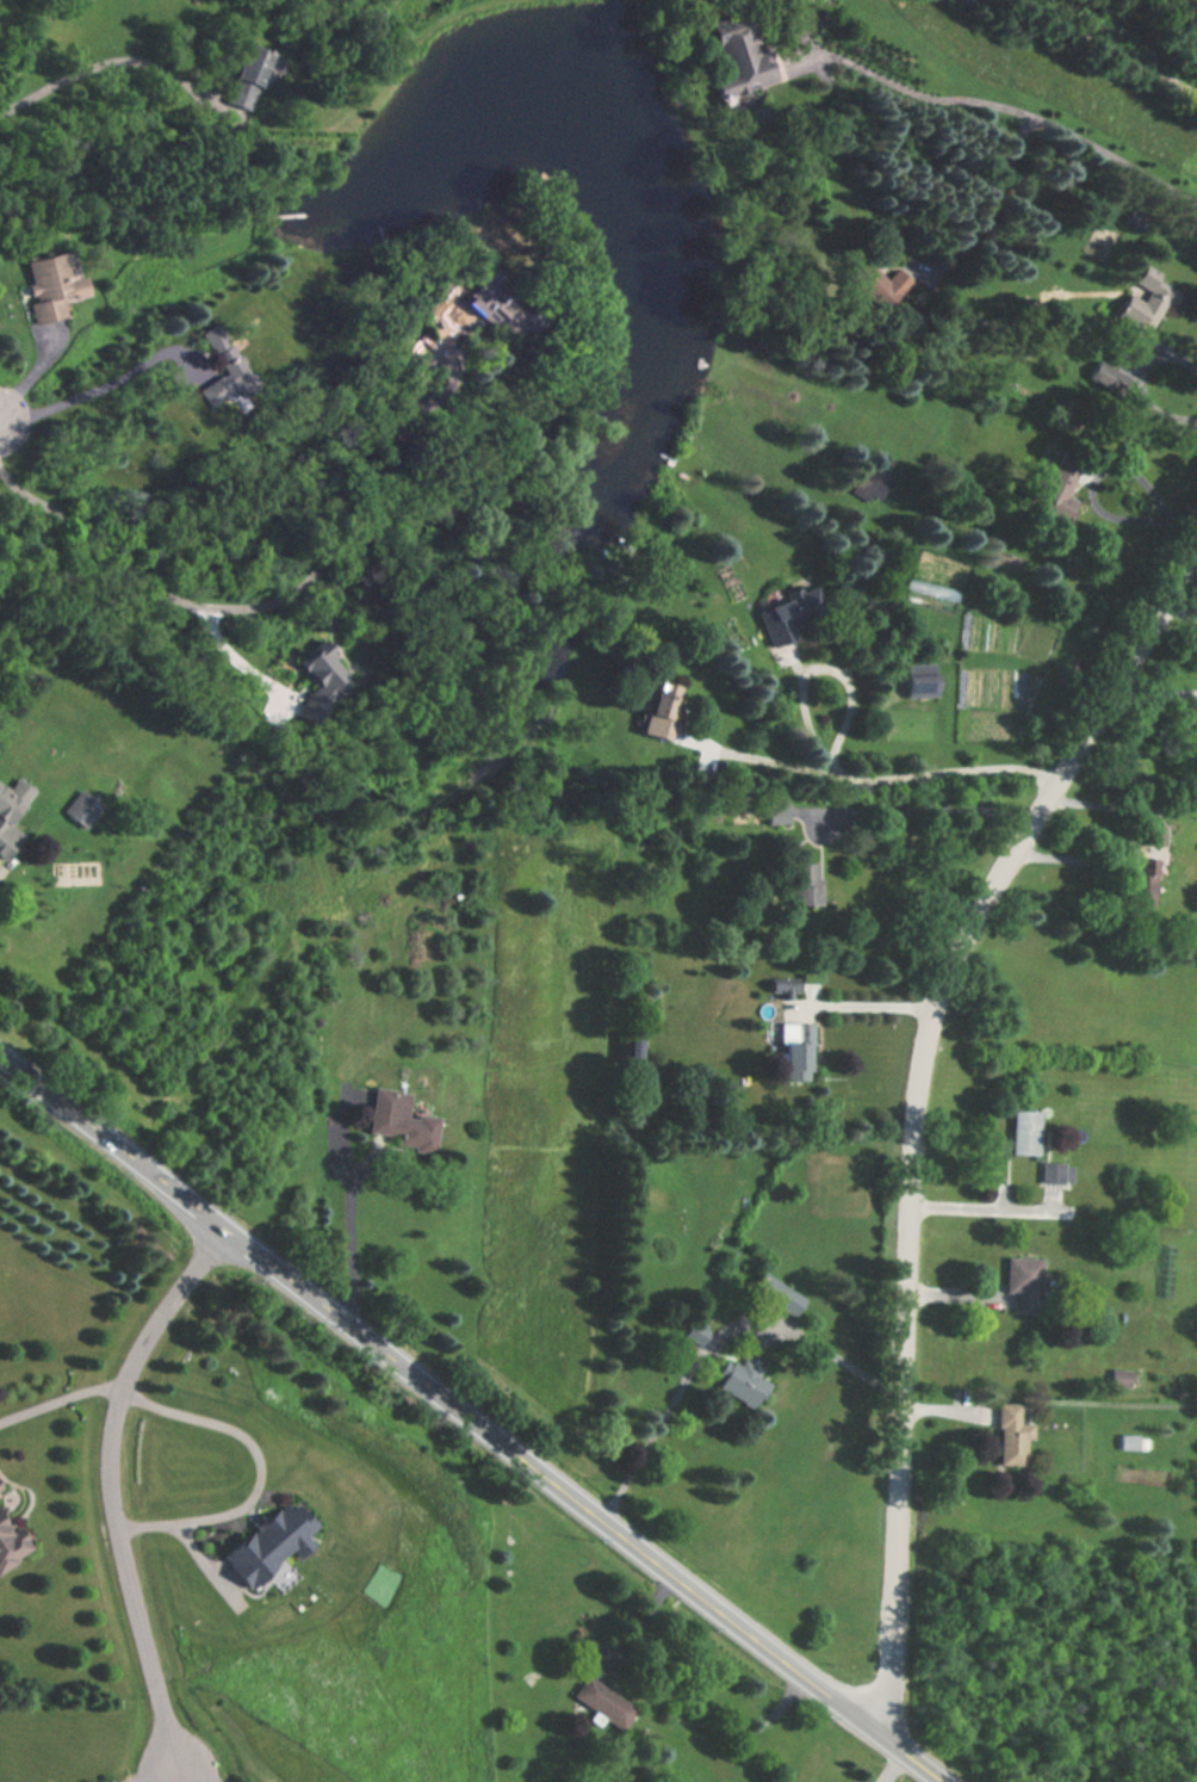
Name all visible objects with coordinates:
road: (1108, 47)
building: (734, 56)
road: (114, 62)
building: (244, 79)
road: (1022, 115)
road: (982, 199)
building: (48, 284)
building: (877, 284)
building: (1141, 307)
road: (449, 366)
road: (110, 386)
road: (1090, 478)
building: (1056, 485)
road: (1180, 531)
road: (232, 611)
road: (1182, 612)
building: (780, 617)
road: (814, 661)
road: (241, 662)
building: (918, 680)
road: (1154, 694)
building: (659, 709)
building: (1196, 722)
road: (876, 774)
building: (80, 809)
road: (924, 812)
building: (6, 830)
building: (802, 883)
road: (863, 1007)
building: (629, 1046)
building: (793, 1050)
road: (916, 1112)
building: (398, 1119)
building: (1024, 1133)
building: (1055, 1172)
road: (987, 1208)
road: (355, 1252)
building: (1024, 1282)
building: (775, 1293)
building: (1106, 1314)
building: (694, 1332)
road: (717, 1337)
building: (740, 1380)
building: (1118, 1380)
road: (60, 1400)
road: (471, 1418)
building: (1011, 1435)
road: (262, 1461)
road: (113, 1483)
building: (8, 1542)
building: (603, 1702)
road: (891, 1766)
road: (156, 1772)
road: (184, 1772)
road: (197, 1772)

